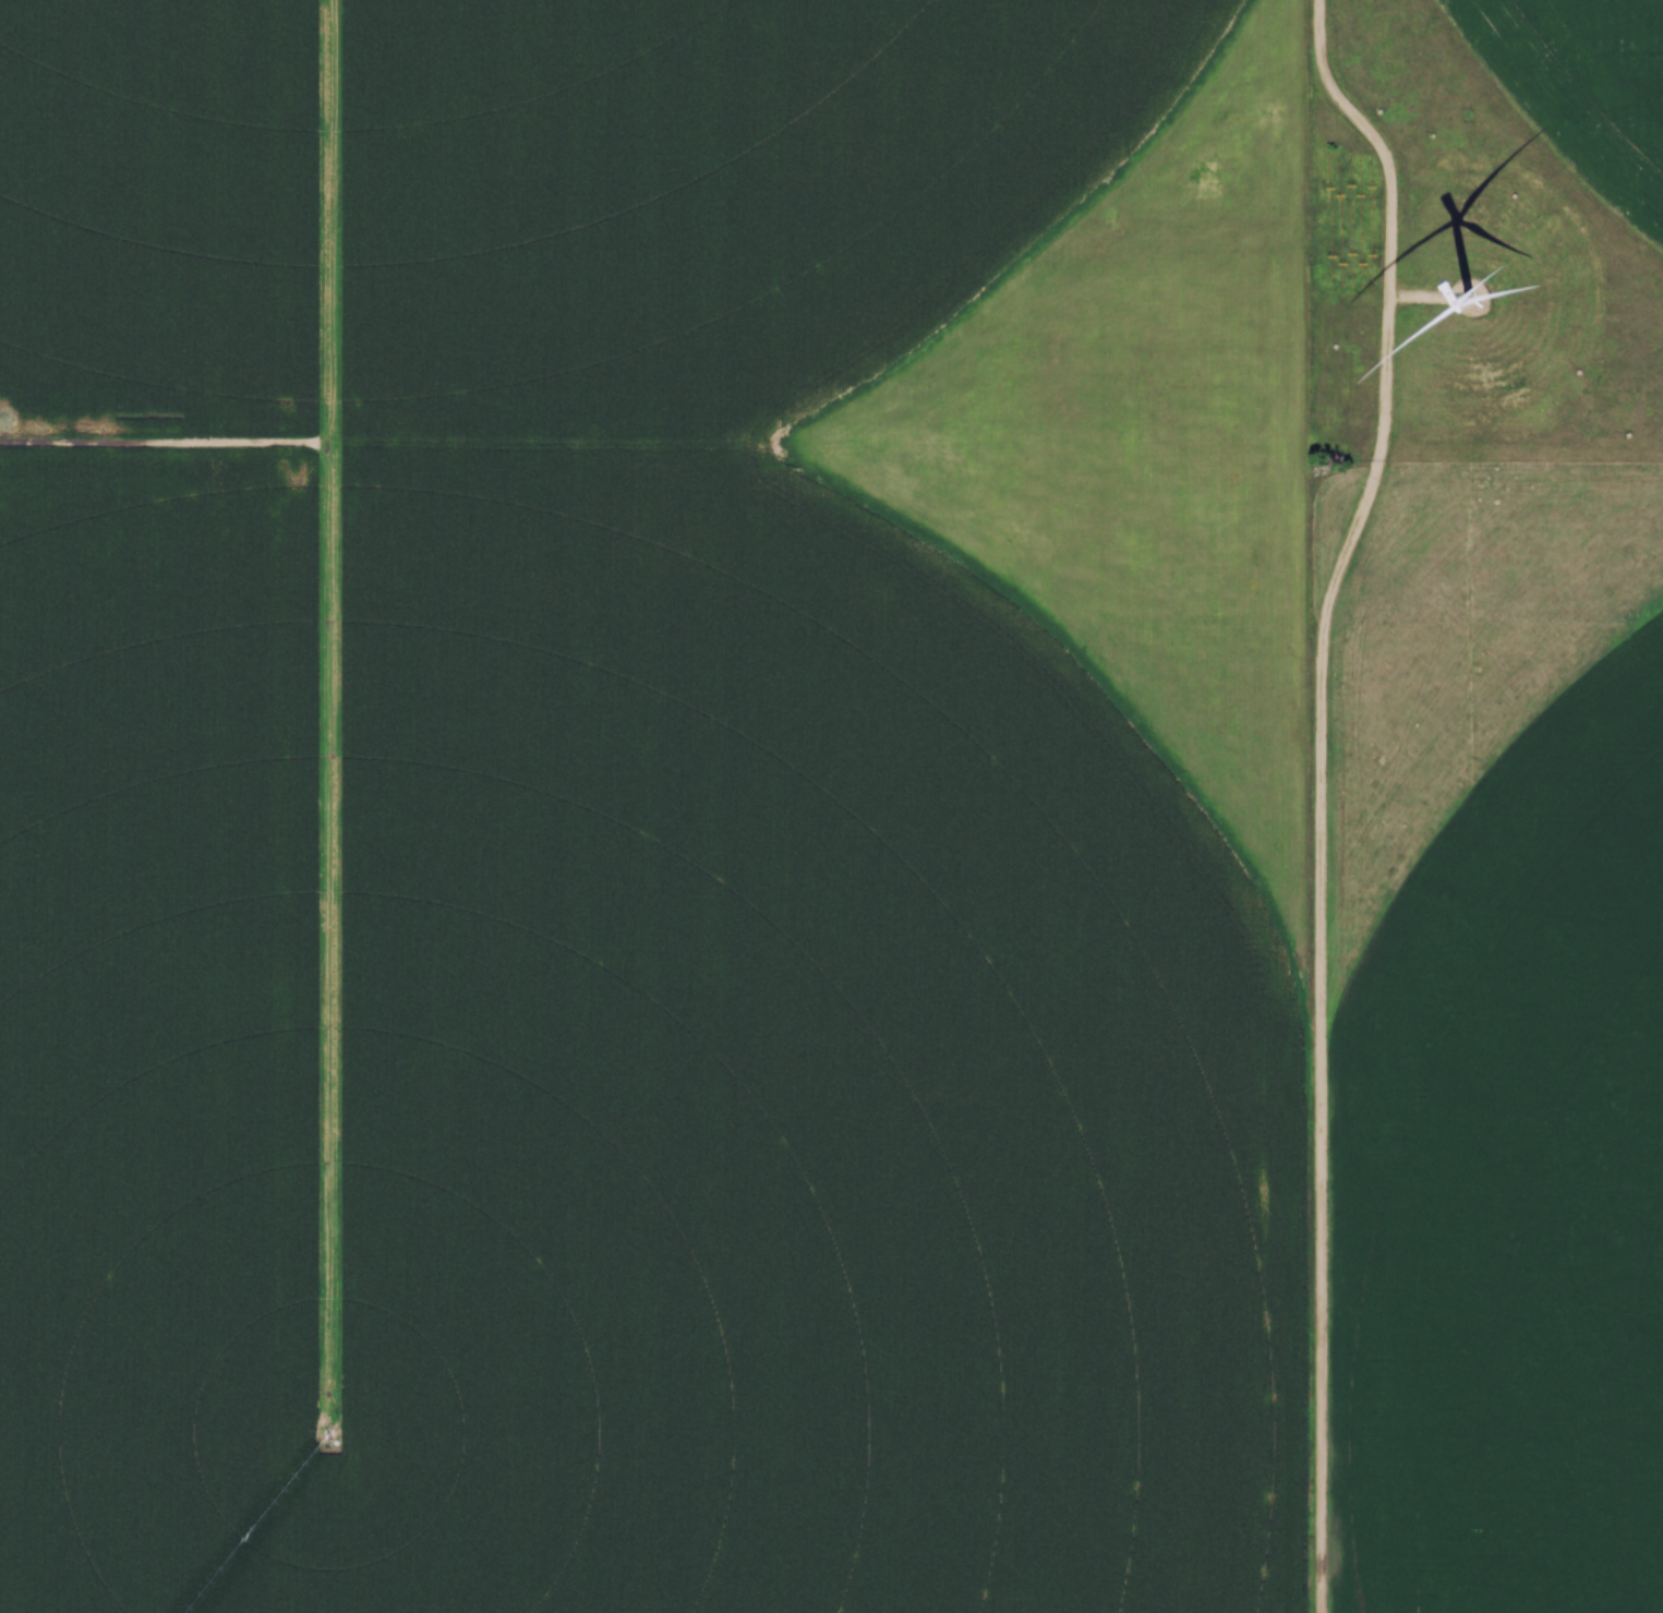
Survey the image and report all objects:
wind turbine: (1477, 303)
road: (1319, 790)

